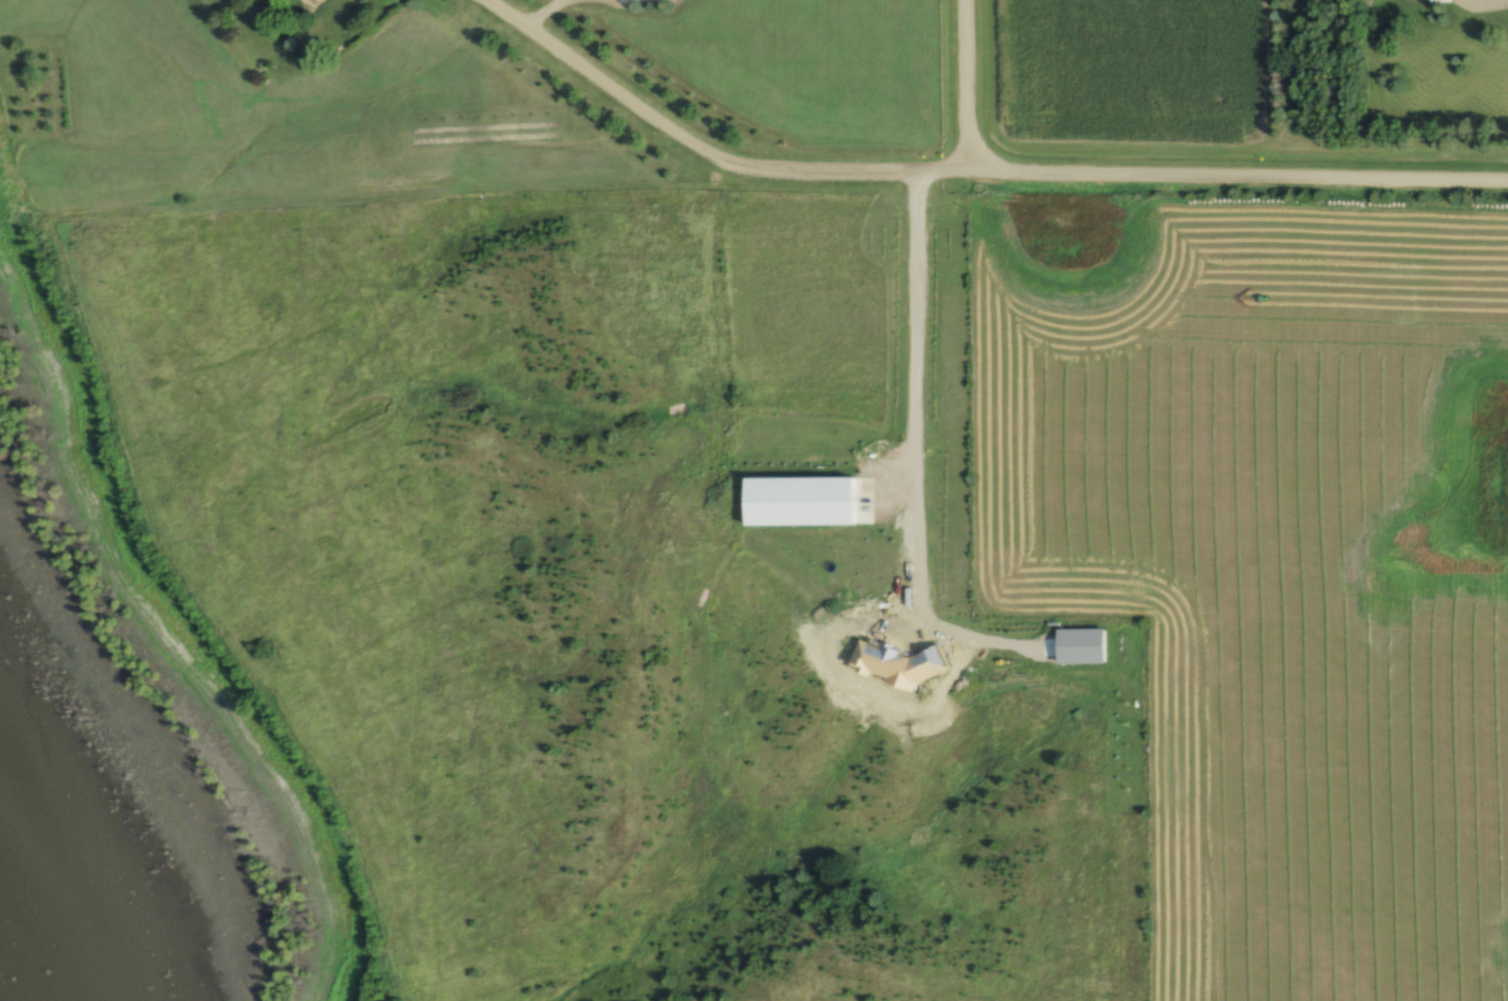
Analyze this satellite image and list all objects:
road: (1487, 5)
road: (941, 96)
road: (1222, 184)
building: (946, 623)

